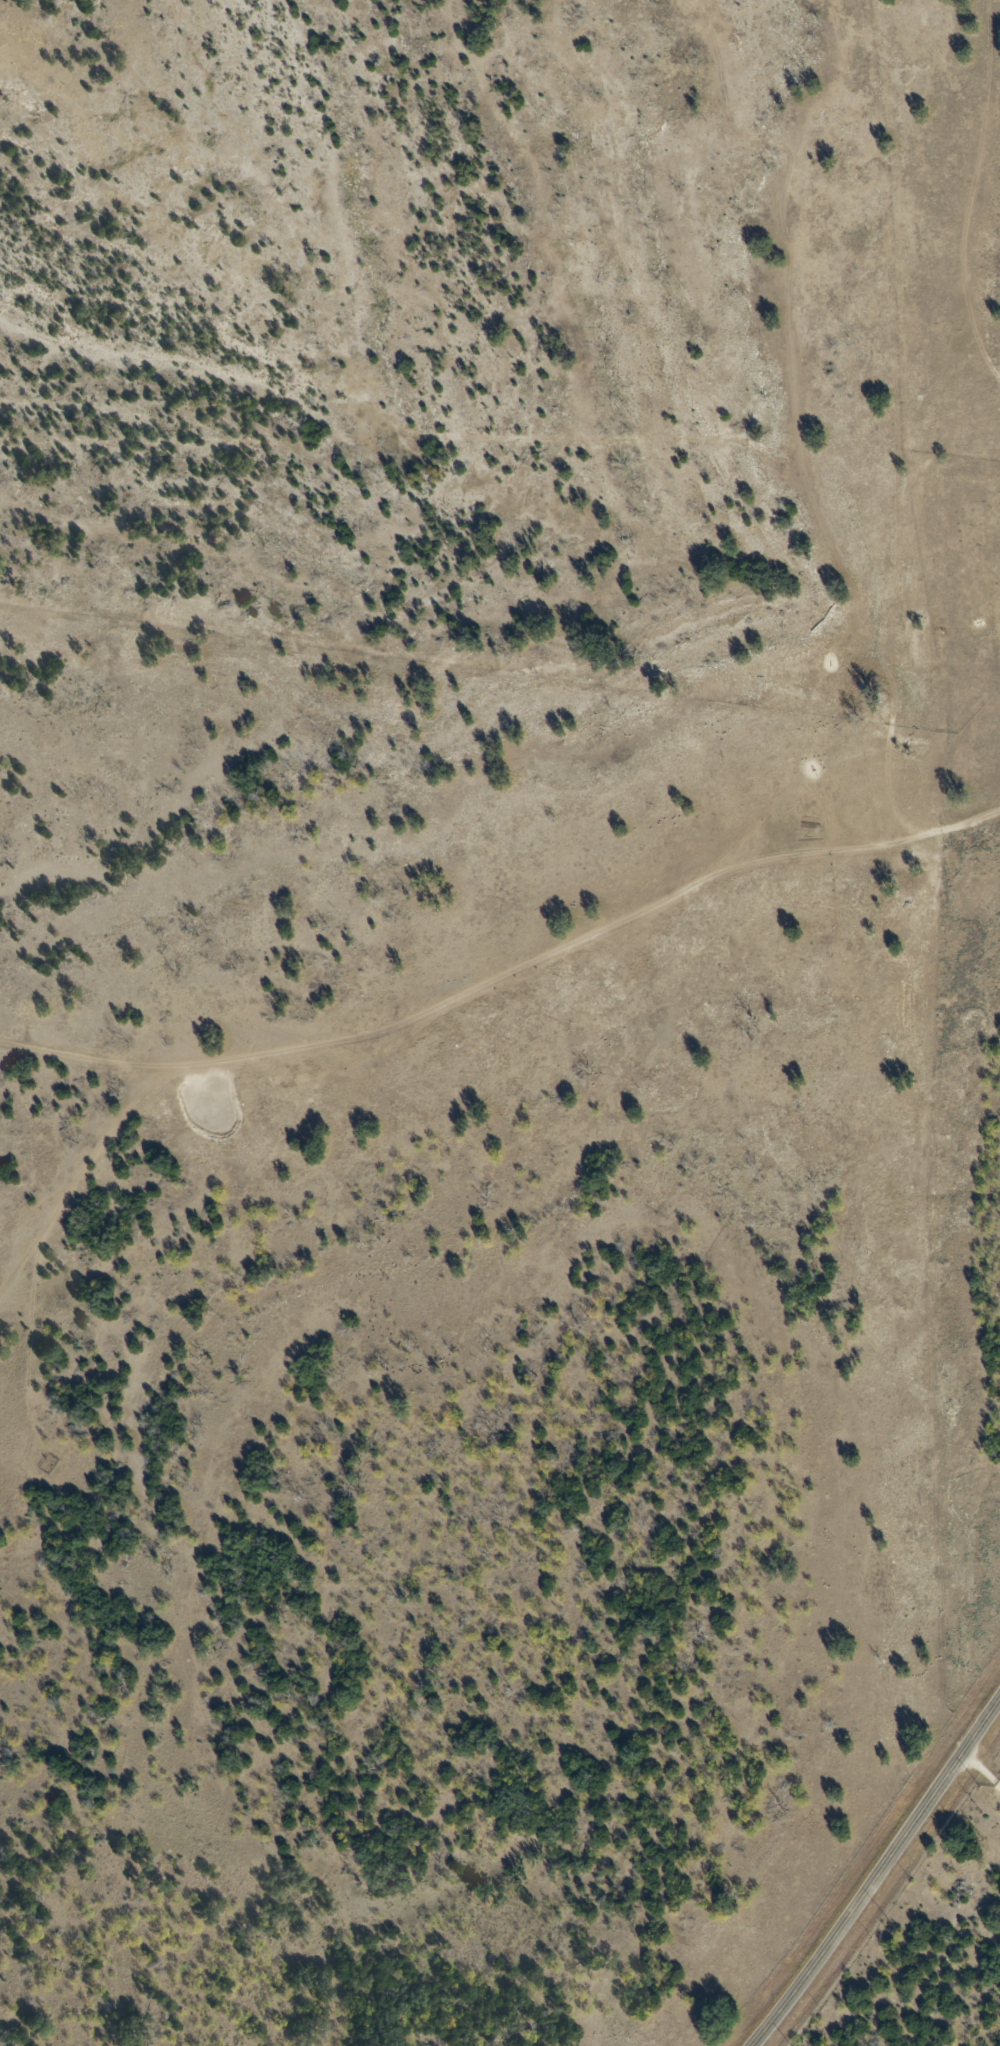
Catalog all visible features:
building: (905, 878)
road: (508, 1013)
road: (982, 1569)
road: (878, 1876)

